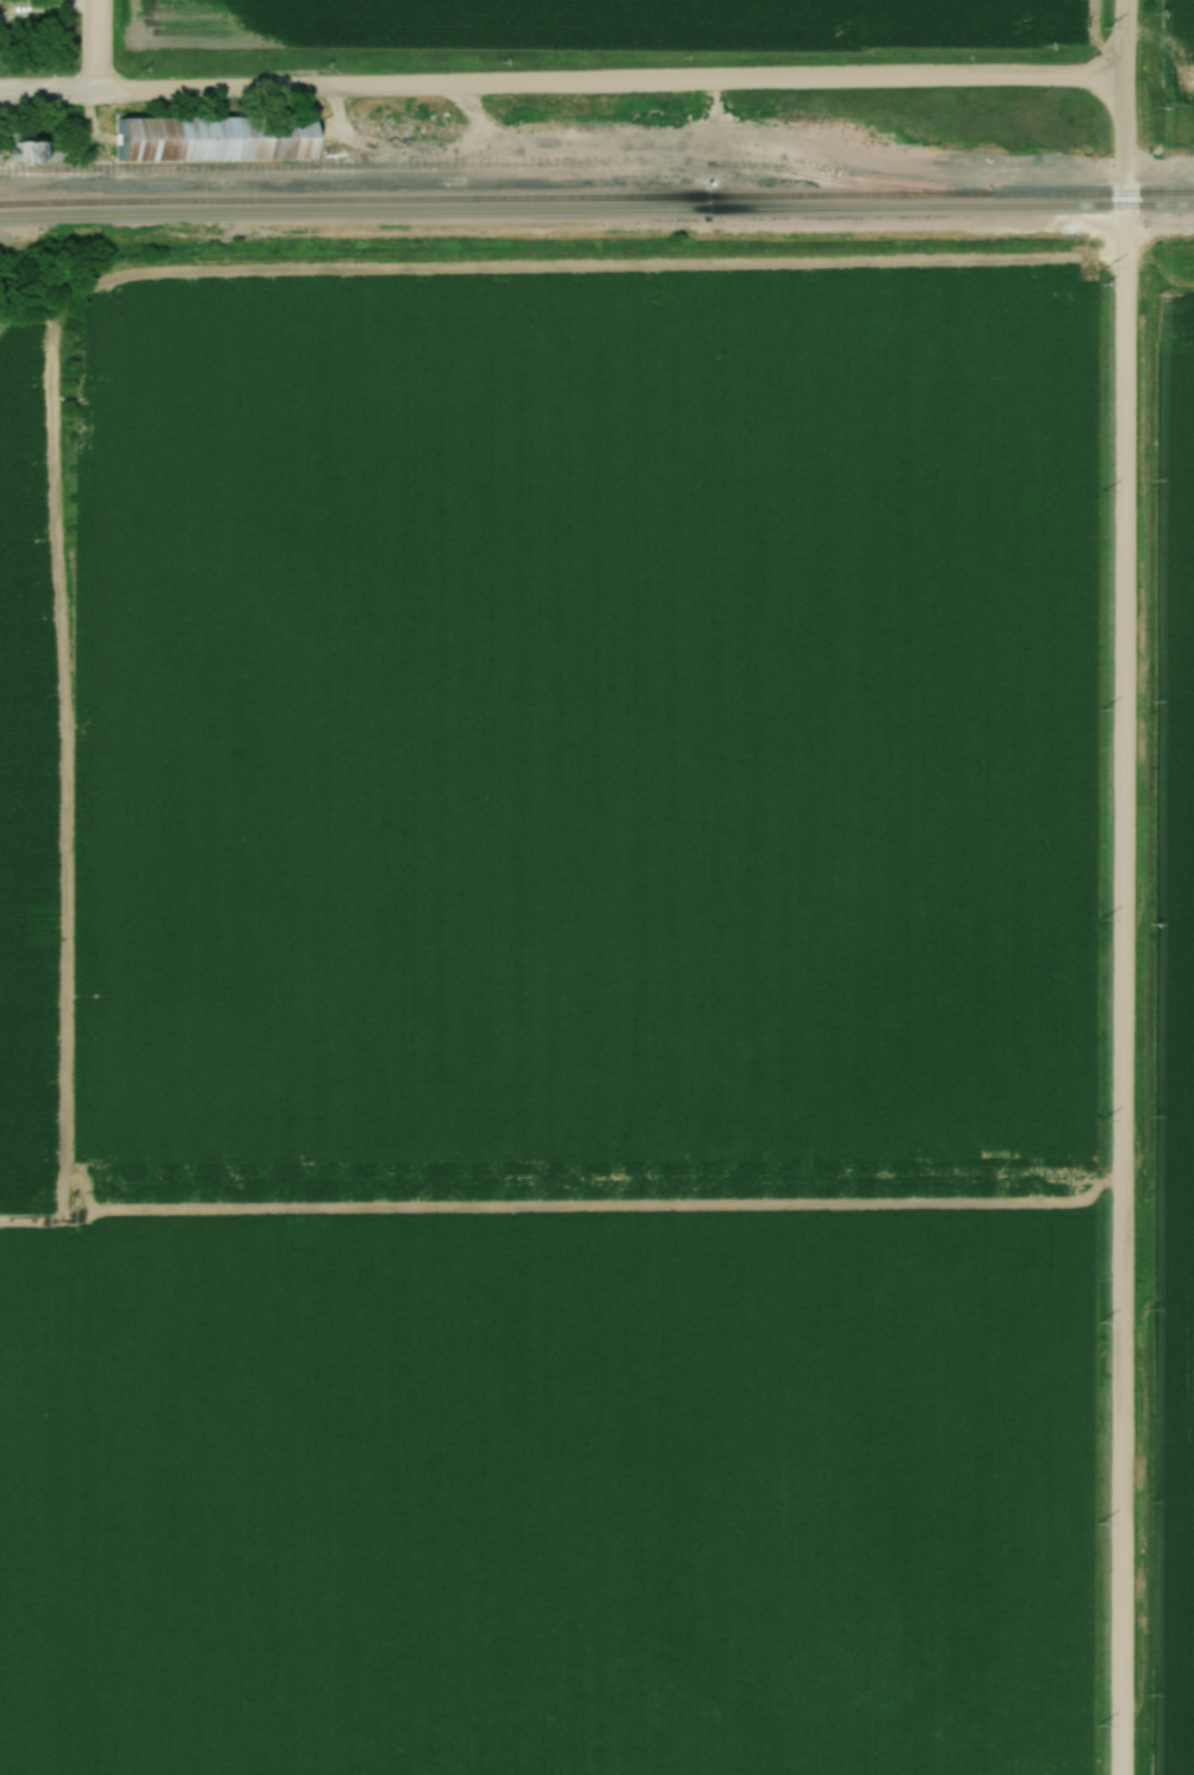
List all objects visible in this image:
road: (99, 46)
road: (564, 82)
building: (29, 151)
railway: (495, 164)
railway: (596, 200)
railway: (596, 217)
crop: (582, 717)
crop: (33, 736)
road: (1125, 886)
crop: (548, 1491)

